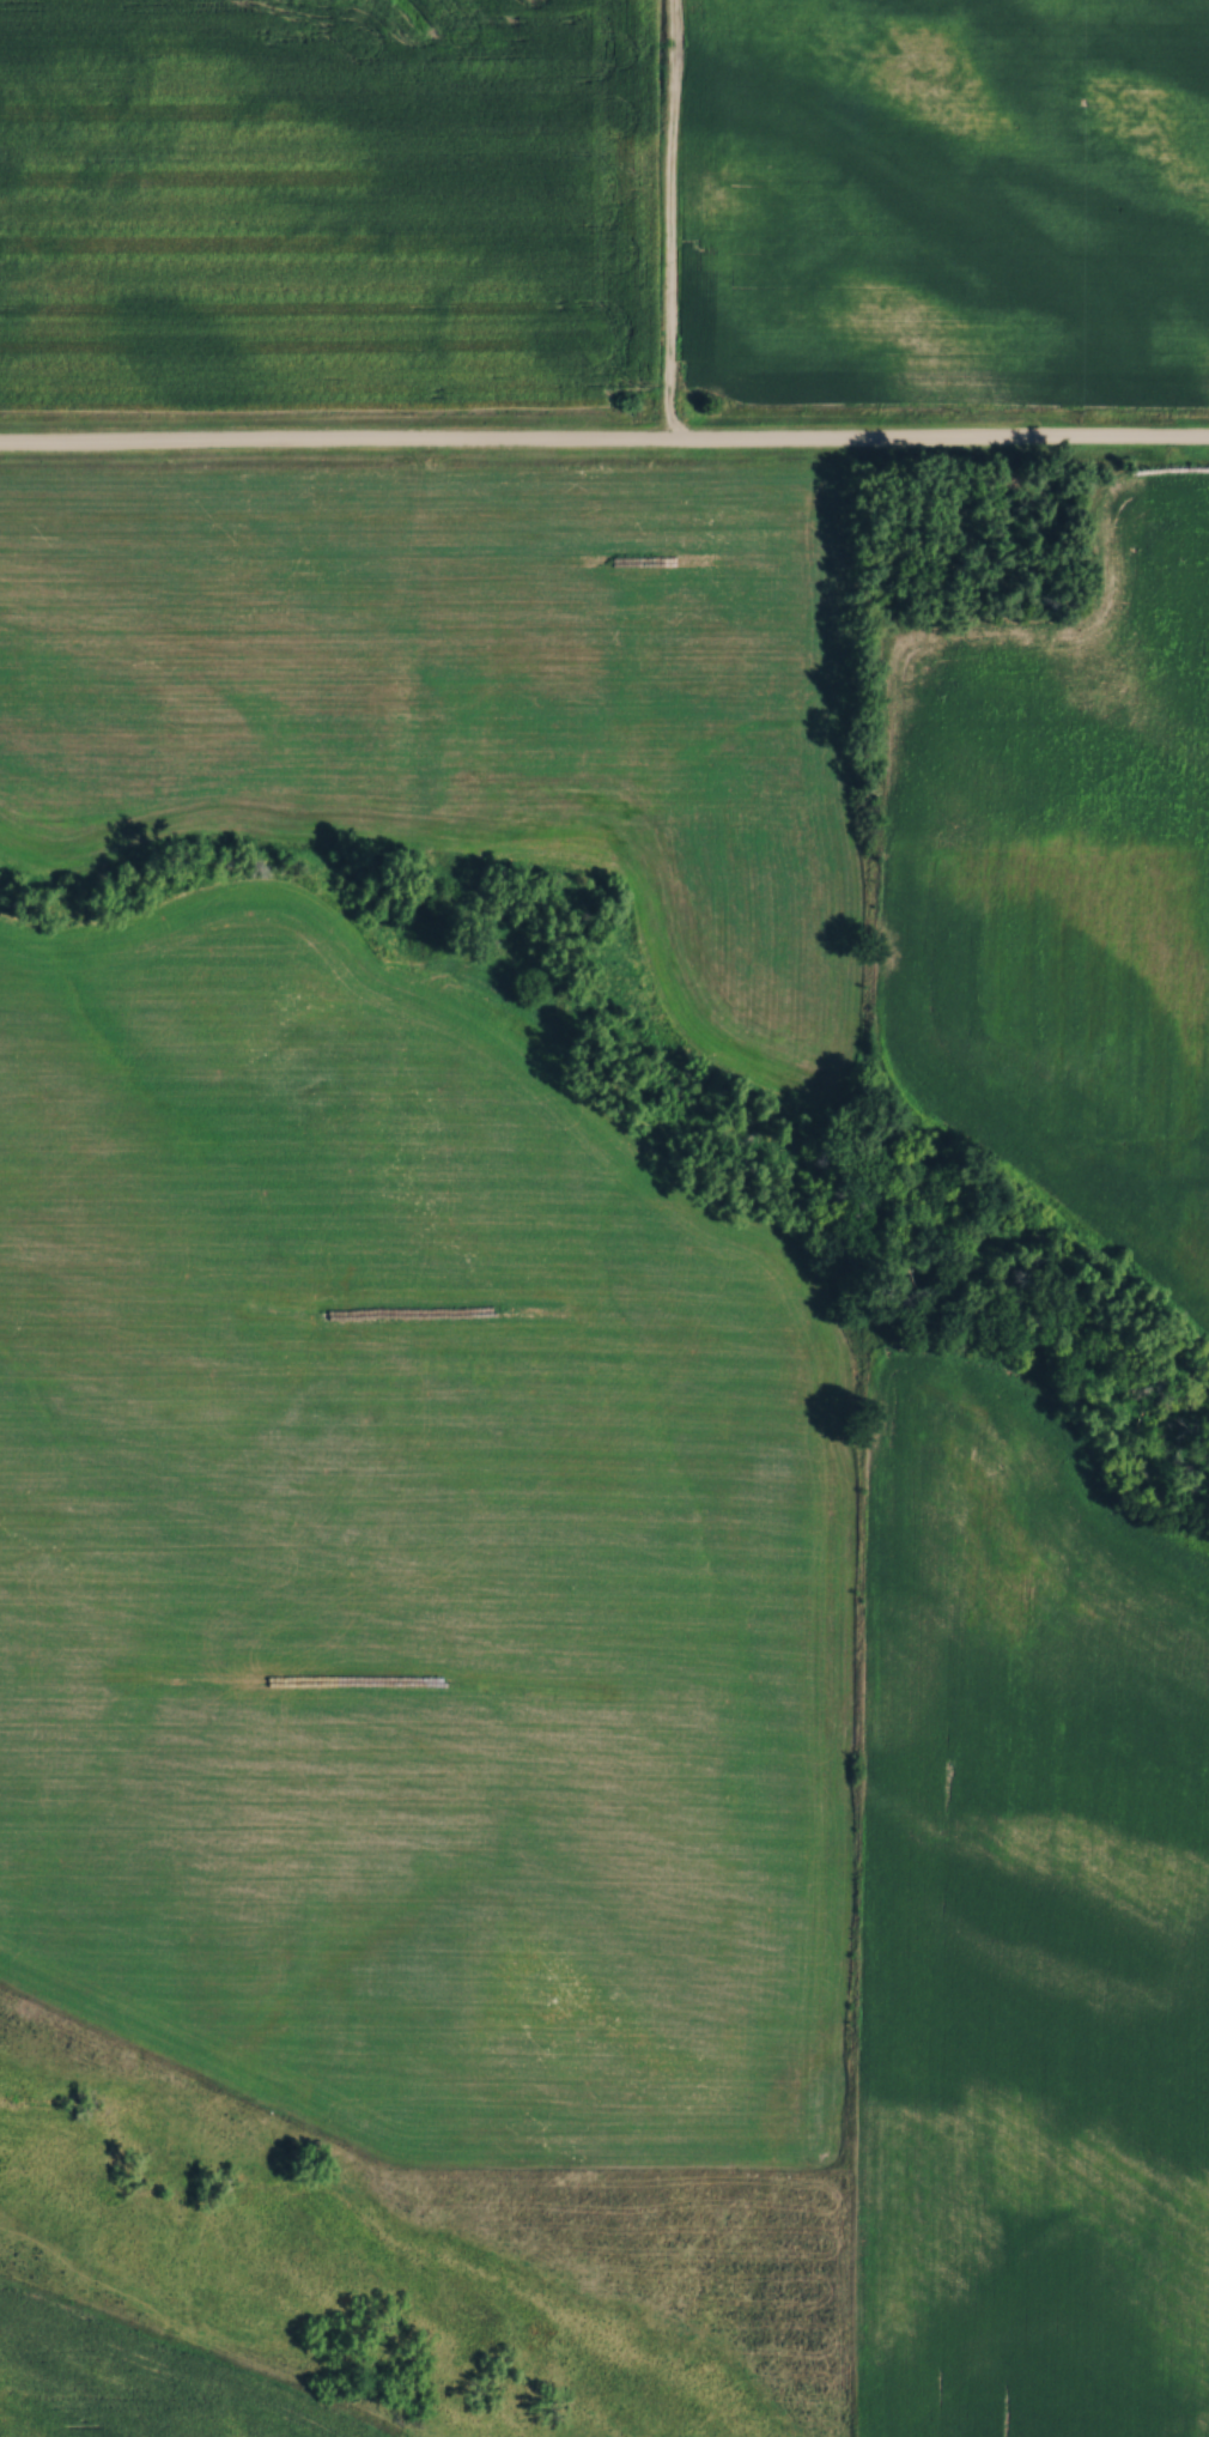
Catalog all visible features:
road: (670, 222)
road: (603, 443)

